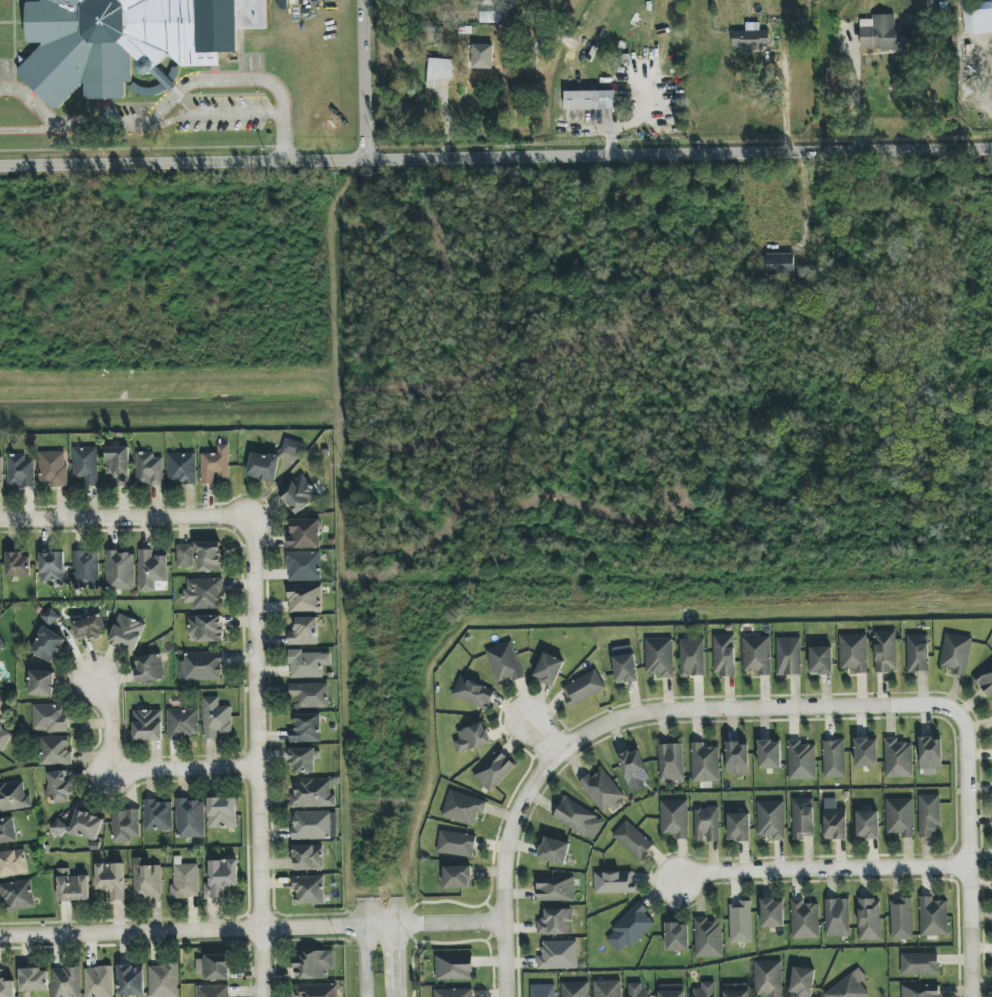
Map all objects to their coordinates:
building: (977, 18)
building: (888, 34)
building: (751, 38)
building: (123, 39)
building: (482, 56)
building: (438, 71)
road: (360, 79)
road: (170, 95)
road: (855, 95)
building: (590, 100)
road: (31, 104)
road: (211, 115)
road: (496, 155)
building: (780, 264)
building: (292, 447)
building: (86, 465)
building: (118, 465)
building: (215, 465)
building: (263, 467)
building: (53, 468)
building: (182, 468)
building: (149, 469)
building: (20, 471)
building: (1, 472)
building: (299, 494)
road: (126, 519)
building: (304, 534)
building: (185, 555)
building: (208, 557)
building: (18, 565)
building: (303, 566)
building: (52, 567)
building: (86, 569)
building: (120, 570)
building: (151, 570)
building: (203, 593)
building: (304, 598)
building: (50, 616)
building: (89, 627)
building: (206, 628)
building: (304, 632)
building: (127, 633)
building: (2, 644)
building: (48, 645)
building: (885, 651)
building: (853, 652)
building: (918, 653)
building: (956, 653)
building: (724, 655)
building: (757, 655)
building: (789, 656)
building: (660, 657)
building: (692, 657)
building: (821, 660)
building: (504, 662)
building: (307, 664)
building: (201, 666)
building: (625, 666)
building: (149, 668)
building: (549, 669)
building: (985, 679)
building: (42, 683)
building: (583, 688)
building: (473, 693)
building: (309, 695)
building: (0, 701)
road: (751, 710)
building: (49, 718)
building: (216, 718)
building: (183, 723)
building: (148, 725)
building: (306, 728)
road: (539, 735)
building: (471, 738)
building: (4, 739)
building: (55, 751)
building: (866, 752)
building: (769, 755)
building: (930, 755)
road: (261, 757)
building: (737, 758)
building: (834, 759)
building: (898, 759)
building: (304, 760)
building: (801, 761)
building: (671, 762)
building: (704, 763)
road: (141, 769)
building: (634, 769)
building: (494, 770)
building: (59, 787)
building: (602, 791)
building: (312, 794)
building: (14, 797)
building: (463, 808)
building: (222, 812)
building: (929, 814)
building: (158, 815)
building: (802, 817)
building: (900, 817)
building: (190, 818)
building: (578, 818)
building: (674, 818)
building: (771, 819)
building: (835, 823)
building: (706, 824)
building: (867, 824)
building: (86, 825)
building: (125, 825)
building: (315, 825)
building: (738, 827)
building: (59, 828)
building: (7, 830)
building: (633, 840)
building: (456, 843)
building: (554, 851)
road: (963, 854)
building: (308, 858)
building: (13, 863)
road: (504, 868)
road: (819, 870)
building: (221, 877)
building: (457, 877)
building: (111, 879)
building: (146, 879)
building: (185, 881)
building: (614, 882)
building: (72, 886)
building: (555, 888)
building: (309, 890)
building: (17, 895)
building: (772, 913)
building: (837, 917)
building: (933, 917)
building: (869, 919)
building: (901, 919)
building: (804, 920)
building: (556, 922)
building: (740, 922)
building: (630, 928)
road: (250, 929)
building: (677, 937)
building: (708, 938)
building: (558, 955)
road: (366, 962)
road: (400, 962)
building: (919, 964)
building: (314, 965)
building: (213, 967)
building: (454, 967)
building: (768, 978)
building: (34, 980)
building: (131, 980)
building: (163, 981)
building: (66, 982)
building: (99, 982)
building: (802, 982)
building: (6, 986)
building: (849, 987)
building: (607, 988)
building: (575, 989)
building: (317, 990)
building: (542, 990)
building: (638, 990)
building: (672, 990)
building: (705, 990)
building: (736, 990)
building: (920, 990)
building: (213, 991)
building: (454, 993)

